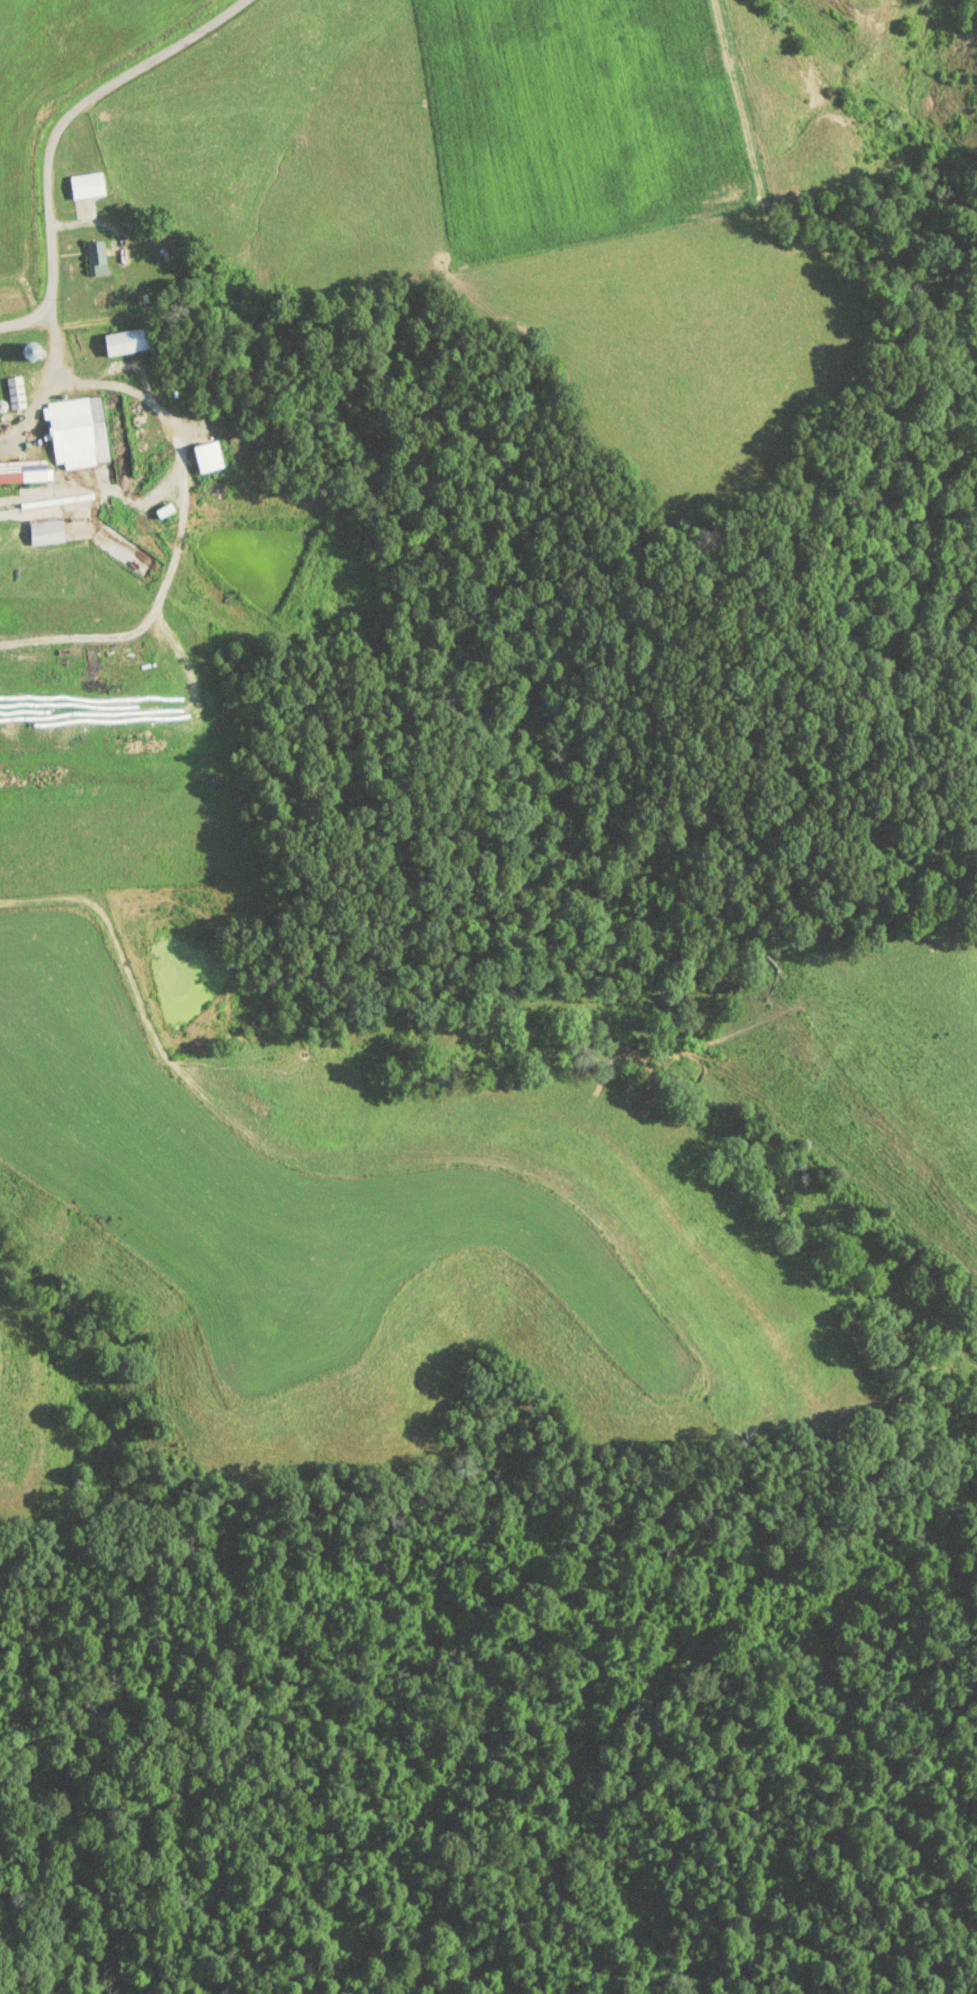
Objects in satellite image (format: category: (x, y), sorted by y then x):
road: (56, 130)
building: (85, 186)
building: (94, 258)
building: (126, 342)
building: (75, 433)
building: (205, 458)
building: (21, 472)
building: (44, 532)

